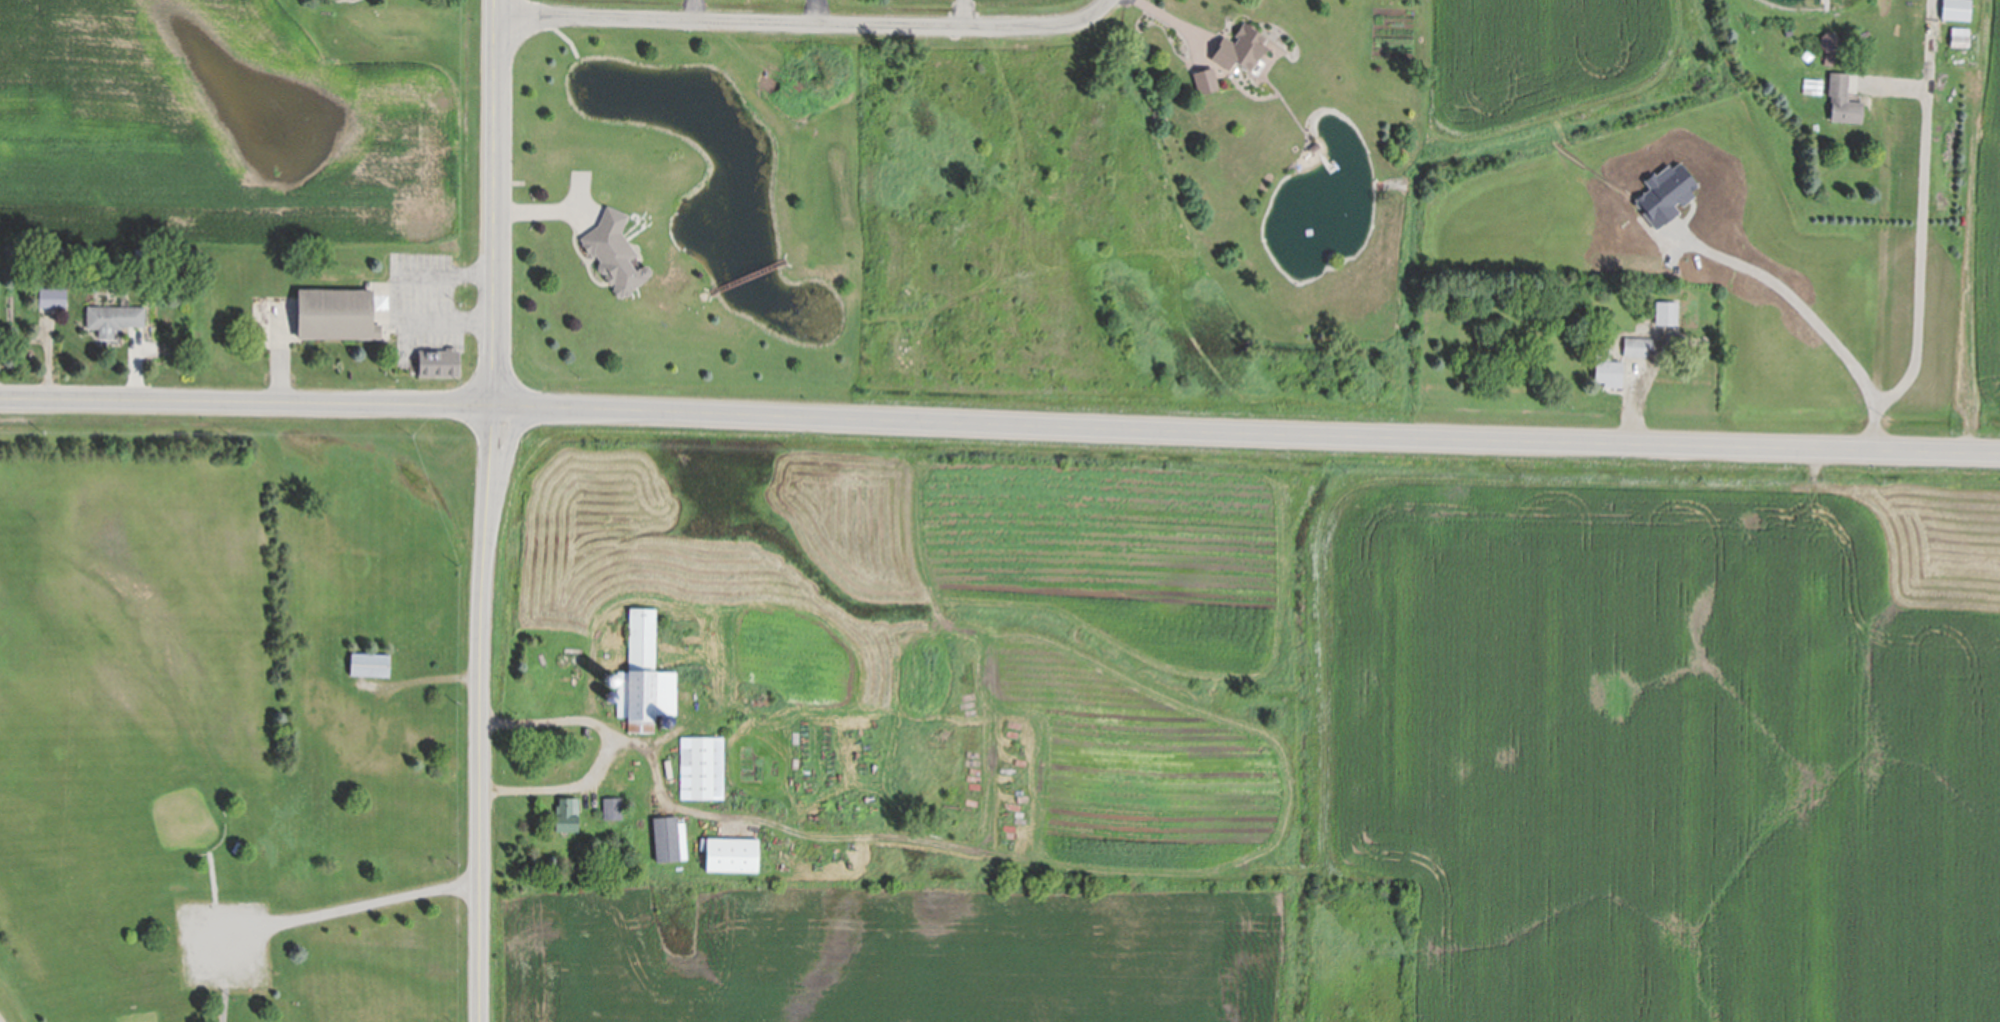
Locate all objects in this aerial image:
road: (690, 11)
road: (1176, 18)
road: (806, 25)
building: (1960, 38)
building: (1830, 43)
building: (1241, 45)
building: (1807, 53)
building: (1961, 56)
building: (1206, 77)
building: (1843, 96)
building: (1898, 109)
building: (1315, 146)
building: (615, 248)
building: (139, 252)
road: (1915, 255)
building: (53, 295)
road: (435, 300)
road: (1793, 304)
building: (337, 309)
building: (1666, 310)
building: (115, 315)
building: (1637, 344)
road: (279, 356)
building: (439, 359)
building: (1608, 366)
road: (999, 426)
road: (491, 511)
building: (565, 655)
building: (577, 655)
building: (370, 661)
building: (577, 668)
building: (643, 674)
building: (611, 696)
building: (666, 719)
building: (395, 738)
building: (370, 740)
road: (607, 749)
park: (182, 752)
building: (703, 765)
park: (109, 767)
building: (612, 805)
building: (567, 810)
building: (670, 836)
building: (732, 851)
road: (372, 911)
parking lot: (229, 949)
road: (230, 1000)

